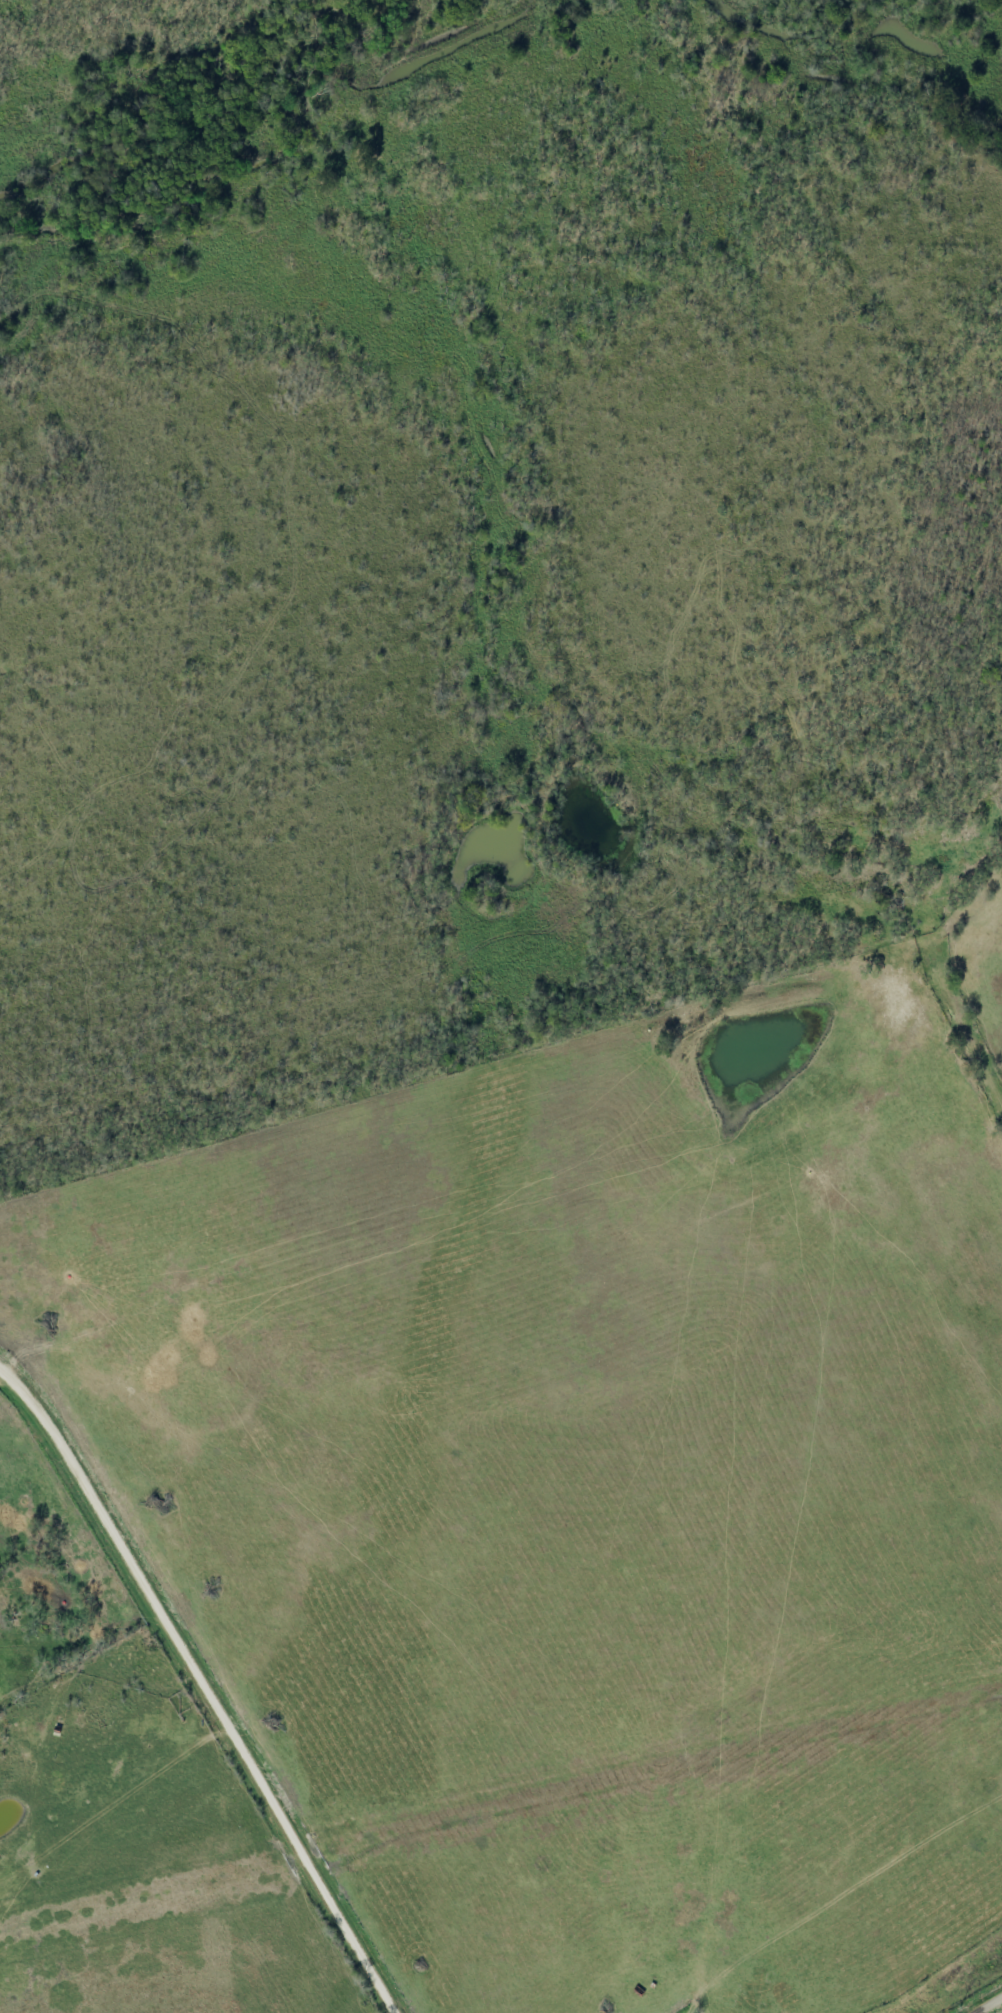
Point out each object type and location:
road: (210, 1682)
road: (993, 2008)

